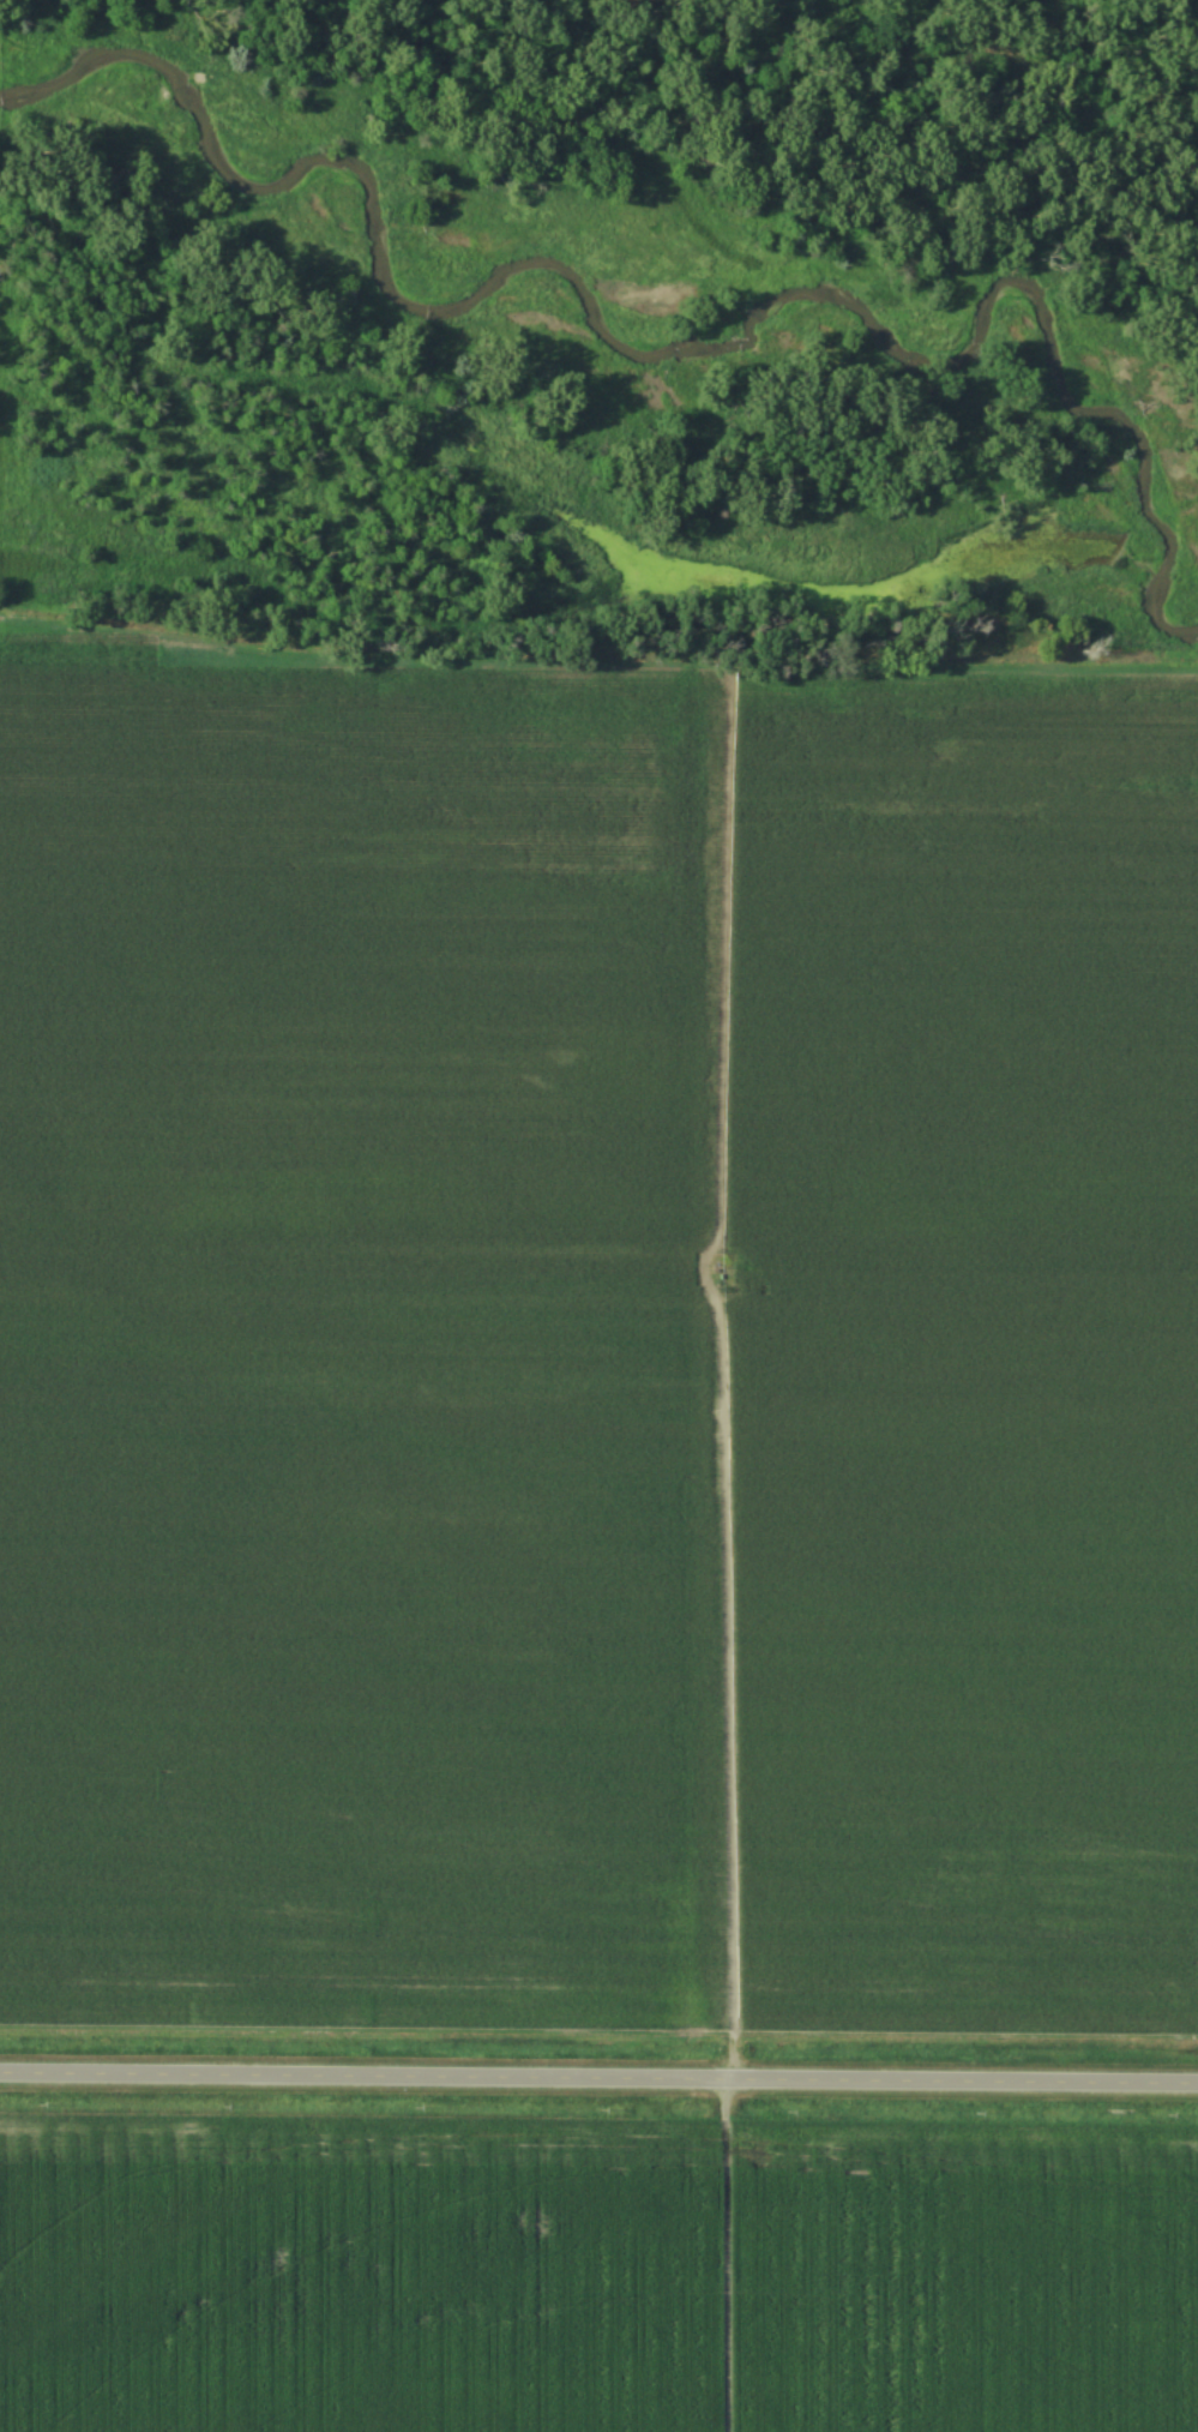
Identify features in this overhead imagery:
road: (598, 2082)

